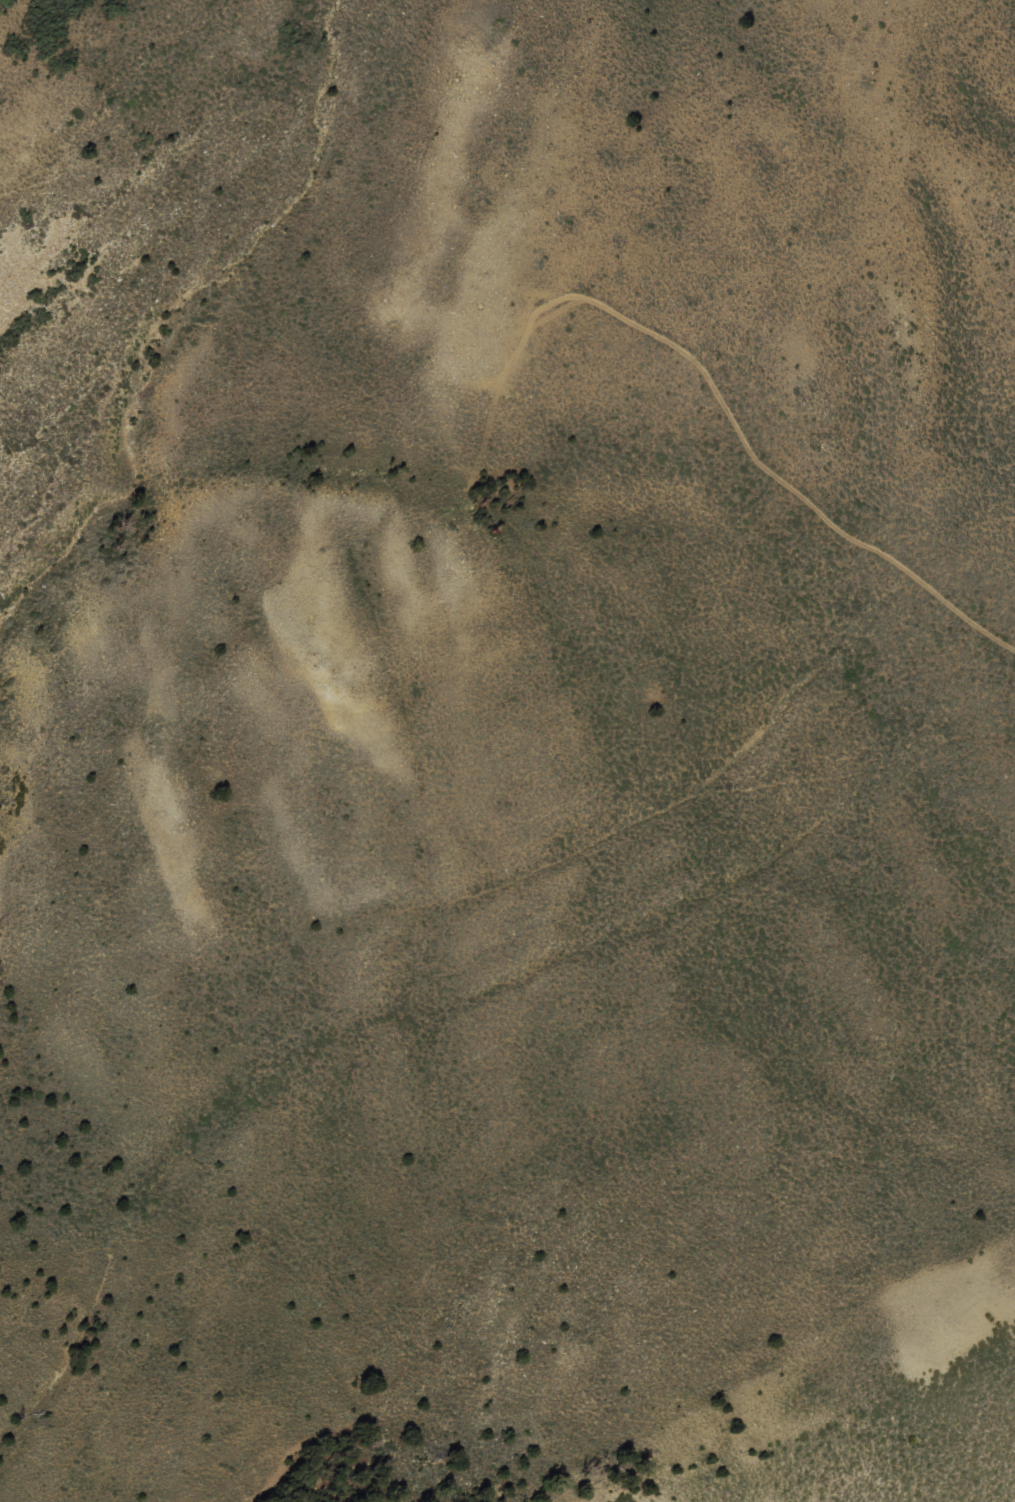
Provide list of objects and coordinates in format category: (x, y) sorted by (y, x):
road: (749, 456)

